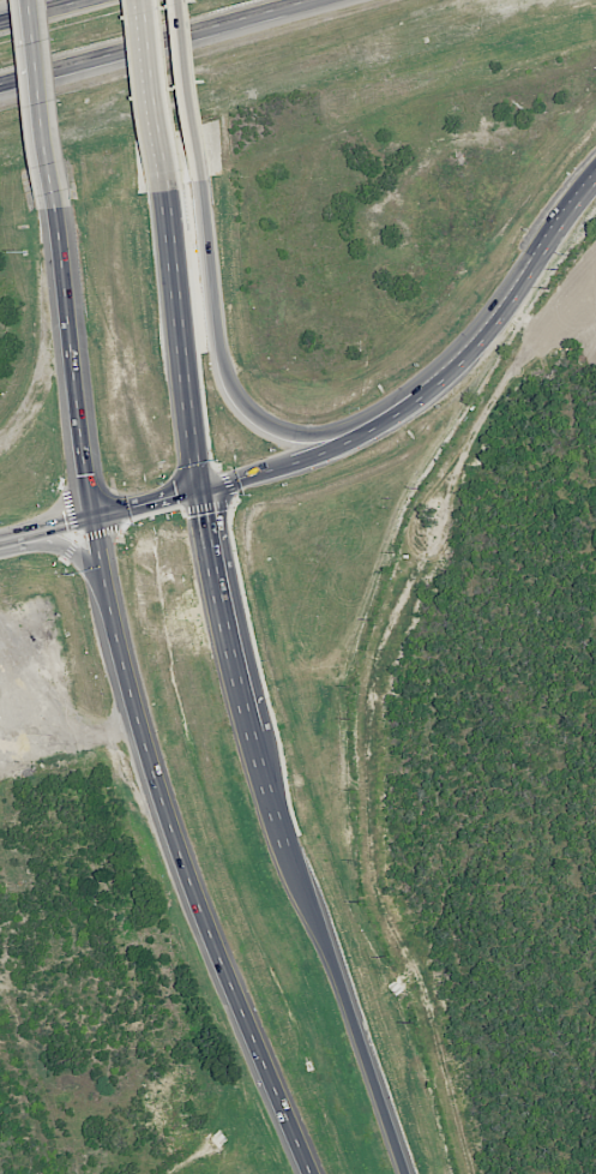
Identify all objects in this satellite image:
road: (44, 12)
road: (151, 41)
road: (189, 83)
road: (156, 88)
road: (47, 104)
road: (222, 359)
road: (76, 364)
road: (389, 413)
road: (198, 467)
traffic signals: (201, 489)
traffic signals: (95, 519)
road: (47, 532)
road: (180, 852)
road: (335, 963)

